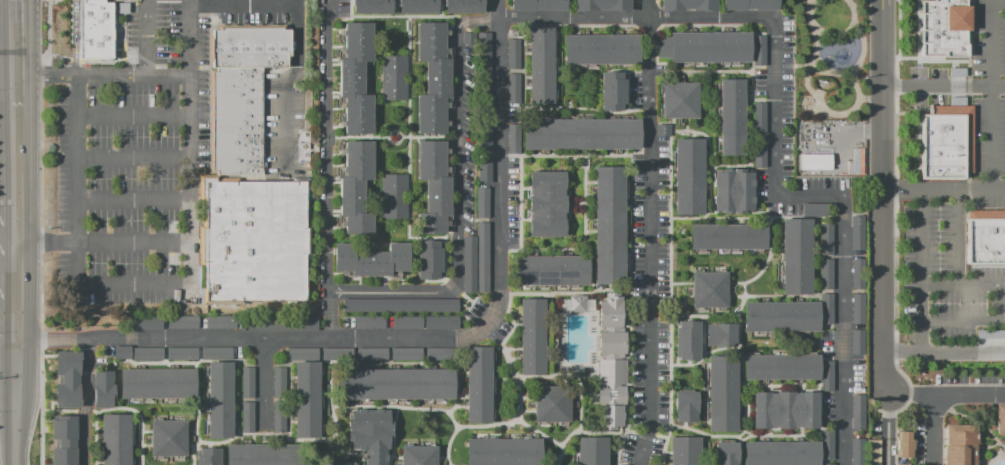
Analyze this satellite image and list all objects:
road: (997, 1)
building: (538, 4)
building: (749, 4)
road: (242, 5)
building: (601, 5)
building: (688, 5)
building: (371, 6)
building: (417, 6)
building: (463, 6)
road: (498, 9)
road: (572, 25)
building: (942, 28)
building: (94, 29)
building: (466, 37)
road: (74, 38)
road: (147, 38)
road: (898, 38)
road: (968, 39)
road: (498, 40)
building: (705, 46)
building: (601, 49)
building: (758, 51)
building: (513, 54)
road: (14, 55)
road: (7, 57)
park: (830, 59)
road: (931, 60)
building: (483, 61)
building: (541, 65)
road: (803, 66)
road: (643, 70)
road: (699, 70)
road: (102, 76)
building: (393, 77)
building: (432, 77)
building: (355, 78)
road: (285, 84)
road: (895, 84)
road: (944, 85)
road: (968, 86)
building: (514, 88)
building: (612, 90)
building: (240, 93)
road: (990, 93)
parking lot: (973, 98)
building: (679, 100)
road: (576, 107)
road: (838, 112)
road: (931, 113)
road: (134, 116)
building: (731, 116)
building: (759, 117)
building: (484, 124)
road: (673, 124)
road: (687, 124)
building: (663, 129)
building: (581, 133)
road: (704, 134)
road: (895, 135)
road: (967, 137)
building: (514, 138)
building: (946, 141)
road: (752, 143)
road: (521, 146)
parking lot: (154, 150)
road: (14, 151)
building: (759, 151)
road: (564, 155)
road: (133, 158)
building: (815, 161)
building: (856, 161)
road: (41, 162)
road: (727, 165)
building: (484, 170)
building: (688, 176)
road: (945, 186)
building: (356, 187)
building: (433, 187)
road: (968, 187)
building: (733, 190)
road: (895, 190)
road: (710, 191)
building: (393, 196)
road: (884, 196)
road: (133, 199)
building: (482, 202)
building: (546, 203)
building: (814, 209)
road: (755, 217)
road: (585, 223)
building: (609, 225)
road: (630, 230)
road: (645, 232)
building: (857, 232)
road: (958, 235)
building: (728, 236)
building: (984, 237)
building: (254, 238)
building: (826, 239)
road: (45, 243)
road: (133, 243)
road: (7, 244)
road: (541, 249)
building: (482, 256)
building: (796, 256)
building: (370, 259)
building: (428, 259)
building: (468, 264)
parking lot: (945, 269)
building: (550, 270)
road: (920, 270)
building: (826, 273)
building: (858, 273)
road: (745, 282)
road: (171, 284)
building: (708, 289)
road: (395, 291)
road: (563, 291)
road: (793, 295)
road: (7, 297)
road: (670, 298)
road: (997, 302)
building: (577, 303)
road: (684, 303)
building: (400, 305)
parking lot: (649, 305)
building: (857, 307)
road: (14, 308)
building: (826, 308)
road: (704, 315)
road: (326, 316)
building: (781, 316)
building: (183, 322)
building: (221, 322)
building: (369, 322)
building: (407, 322)
building: (441, 322)
building: (146, 323)
building: (280, 324)
building: (720, 334)
road: (704, 335)
building: (532, 336)
building: (991, 336)
road: (40, 339)
building: (687, 339)
building: (857, 341)
road: (820, 344)
road: (50, 347)
road: (511, 348)
building: (121, 352)
building: (147, 353)
building: (182, 353)
building: (216, 353)
building: (406, 353)
road: (505, 353)
building: (303, 354)
building: (337, 354)
building: (371, 354)
building: (441, 354)
road: (944, 354)
road: (704, 355)
road: (741, 356)
road: (514, 358)
road: (676, 359)
building: (611, 360)
road: (208, 361)
road: (688, 361)
road: (393, 365)
building: (781, 366)
road: (575, 373)
building: (827, 375)
building: (67, 378)
building: (247, 382)
road: (262, 382)
building: (278, 382)
road: (740, 382)
building: (157, 383)
building: (395, 384)
building: (478, 384)
road: (783, 385)
road: (457, 388)
building: (102, 389)
road: (288, 391)
building: (722, 393)
road: (913, 393)
road: (970, 394)
road: (7, 398)
building: (306, 399)
building: (220, 400)
building: (552, 404)
road: (742, 404)
building: (685, 405)
road: (118, 407)
road: (417, 407)
road: (41, 408)
building: (785, 409)
road: (59, 410)
road: (84, 411)
road: (94, 411)
building: (857, 411)
building: (247, 417)
building: (278, 417)
building: (997, 418)
road: (513, 420)
road: (291, 421)
road: (335, 424)
road: (887, 428)
road: (934, 429)
road: (145, 431)
road: (191, 431)
road: (580, 431)
road: (769, 431)
road: (646, 433)
road: (704, 433)
building: (370, 434)
road: (393, 435)
road: (778, 435)
building: (168, 438)
road: (744, 438)
building: (115, 439)
road: (311, 439)
building: (63, 440)
road: (204, 441)
road: (196, 443)
road: (13, 444)
road: (146, 444)
building: (827, 444)
building: (903, 444)
road: (190, 445)
building: (958, 445)
building: (592, 450)
building: (503, 451)
building: (684, 451)
building: (857, 451)
road: (361, 452)
road: (740, 452)
building: (873, 452)
building: (725, 453)
building: (781, 453)
building: (263, 454)
road: (193, 455)
building: (418, 455)
building: (208, 456)
building: (337, 463)
building: (827, 463)
building: (624, 464)
building: (654, 464)
building: (902, 464)

